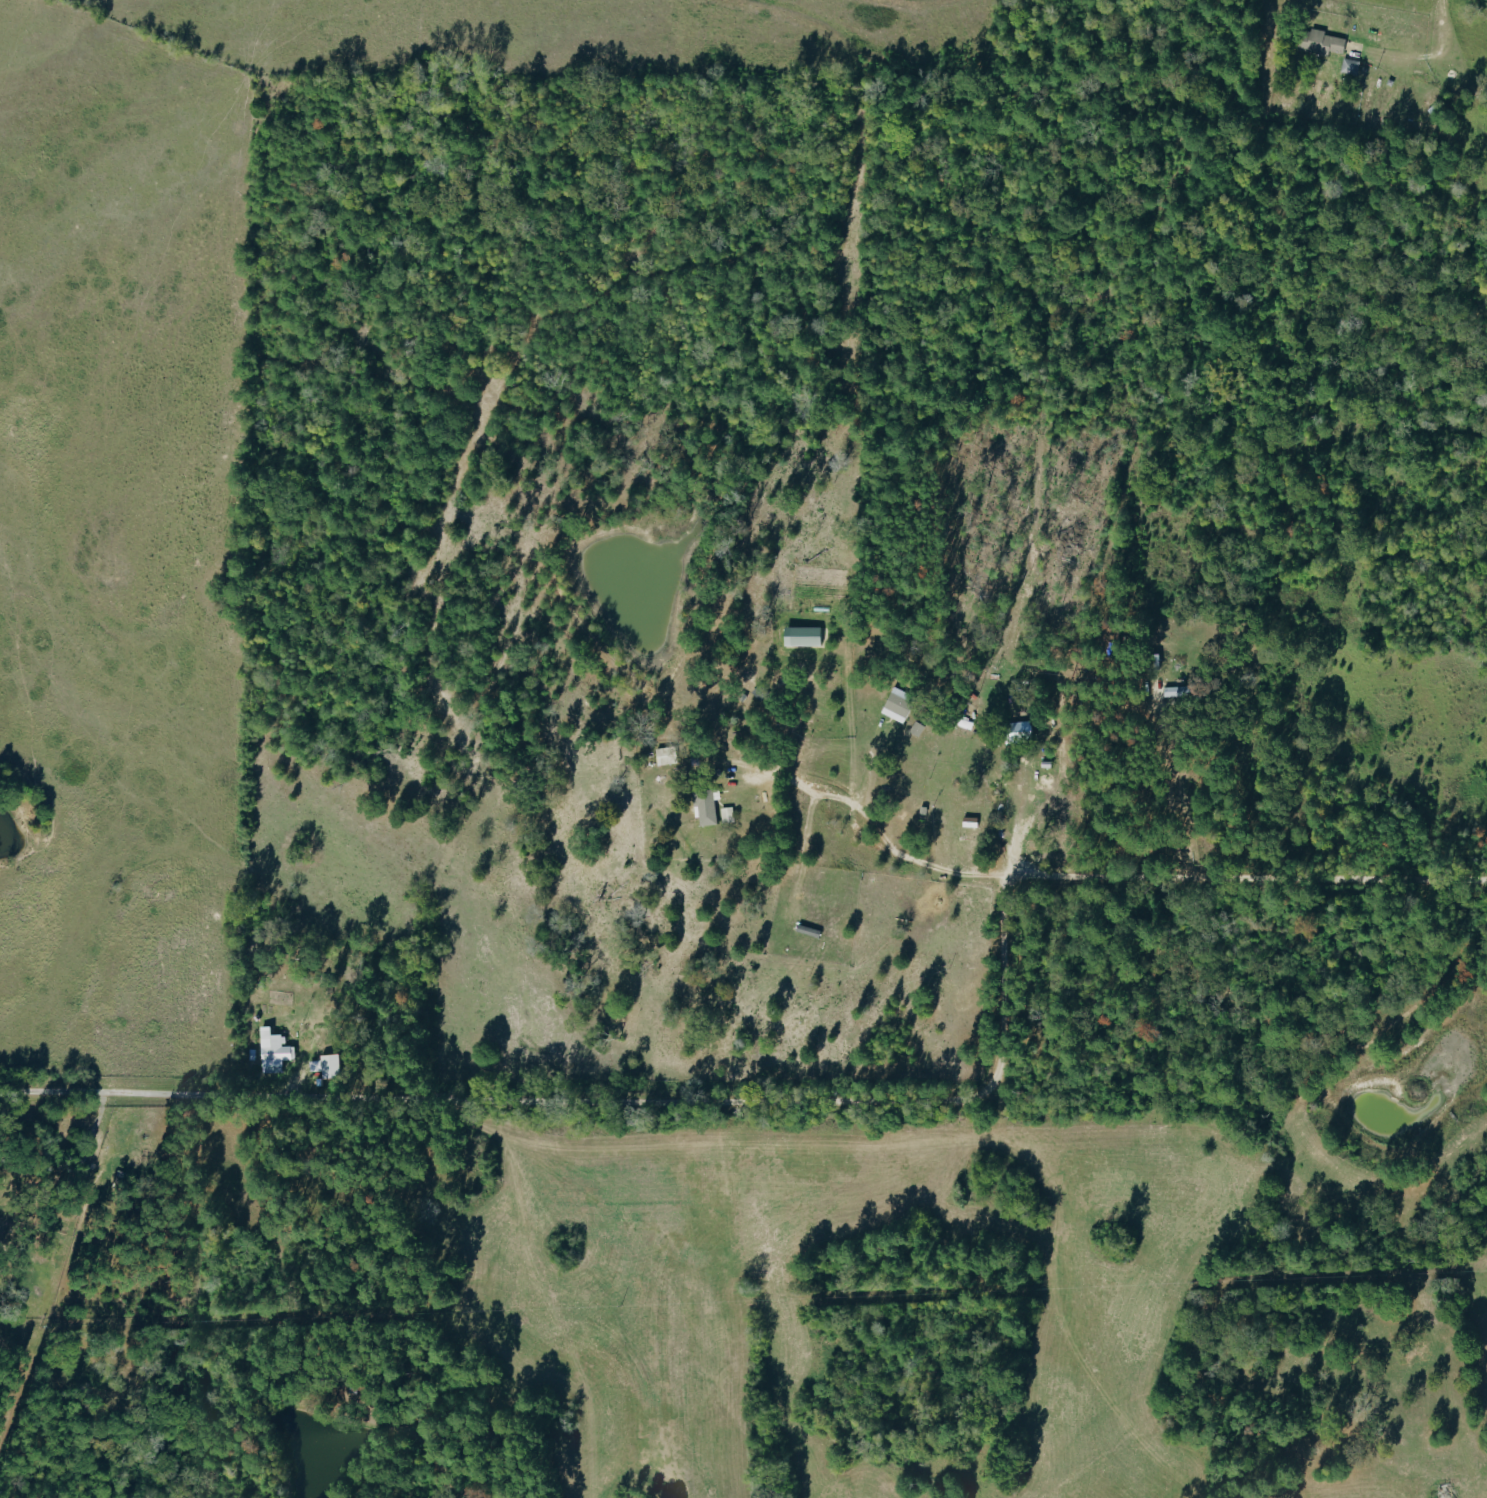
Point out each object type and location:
building: (1320, 43)
building: (1349, 68)
building: (801, 635)
building: (1175, 691)
building: (897, 704)
building: (916, 728)
building: (1020, 729)
building: (665, 755)
building: (704, 806)
road: (1017, 814)
building: (273, 1051)
building: (326, 1065)
road: (852, 1091)

